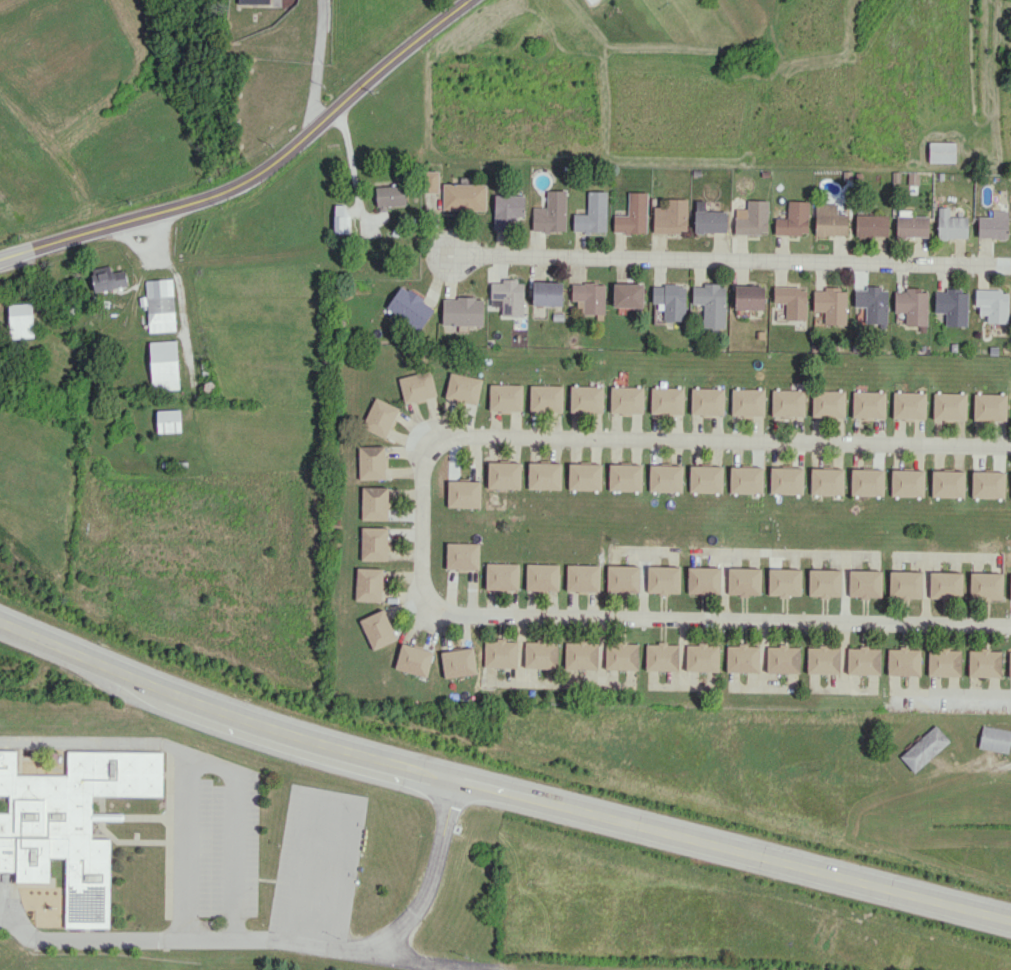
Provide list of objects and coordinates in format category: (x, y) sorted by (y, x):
building: (253, 1)
road: (316, 64)
building: (941, 152)
road: (350, 157)
road: (257, 172)
building: (429, 181)
building: (390, 196)
building: (463, 196)
building: (507, 210)
building: (550, 213)
building: (592, 214)
building: (632, 214)
building: (671, 216)
building: (751, 218)
building: (340, 219)
building: (708, 219)
building: (793, 219)
building: (829, 220)
building: (911, 224)
building: (871, 225)
building: (950, 225)
building: (993, 225)
road: (155, 238)
road: (729, 262)
building: (108, 278)
building: (547, 293)
building: (627, 295)
building: (509, 296)
building: (588, 297)
building: (749, 297)
building: (670, 300)
building: (791, 301)
building: (710, 303)
building: (872, 303)
building: (159, 304)
building: (831, 304)
building: (992, 304)
building: (911, 305)
building: (952, 306)
building: (410, 307)
building: (462, 311)
building: (20, 320)
building: (163, 365)
building: (416, 386)
building: (463, 388)
building: (505, 397)
building: (545, 397)
building: (586, 398)
building: (626, 399)
building: (666, 400)
building: (707, 401)
building: (747, 401)
building: (787, 402)
building: (827, 403)
building: (868, 404)
building: (908, 405)
building: (948, 405)
building: (989, 406)
building: (379, 417)
building: (168, 420)
building: (371, 462)
building: (503, 474)
building: (544, 475)
building: (584, 476)
building: (624, 477)
building: (665, 478)
building: (705, 478)
building: (745, 479)
building: (786, 480)
building: (826, 481)
building: (866, 481)
building: (907, 482)
building: (947, 483)
building: (987, 484)
building: (463, 493)
building: (374, 502)
road: (422, 526)
building: (373, 543)
building: (462, 555)
building: (501, 576)
building: (542, 577)
building: (622, 577)
building: (582, 578)
building: (663, 579)
building: (703, 580)
building: (743, 581)
building: (784, 581)
building: (824, 582)
building: (864, 583)
building: (368, 584)
building: (905, 584)
building: (945, 584)
building: (985, 585)
building: (1010, 587)
building: (377, 629)
building: (500, 653)
building: (540, 654)
building: (581, 655)
building: (621, 655)
building: (661, 656)
building: (702, 657)
building: (742, 658)
building: (413, 659)
building: (782, 659)
building: (823, 659)
building: (863, 660)
building: (903, 661)
building: (458, 662)
building: (943, 662)
building: (984, 663)
building: (1009, 664)
road: (952, 692)
building: (995, 738)
road: (98, 740)
building: (924, 748)
road: (205, 762)
road: (500, 786)
building: (66, 827)
road: (282, 942)

